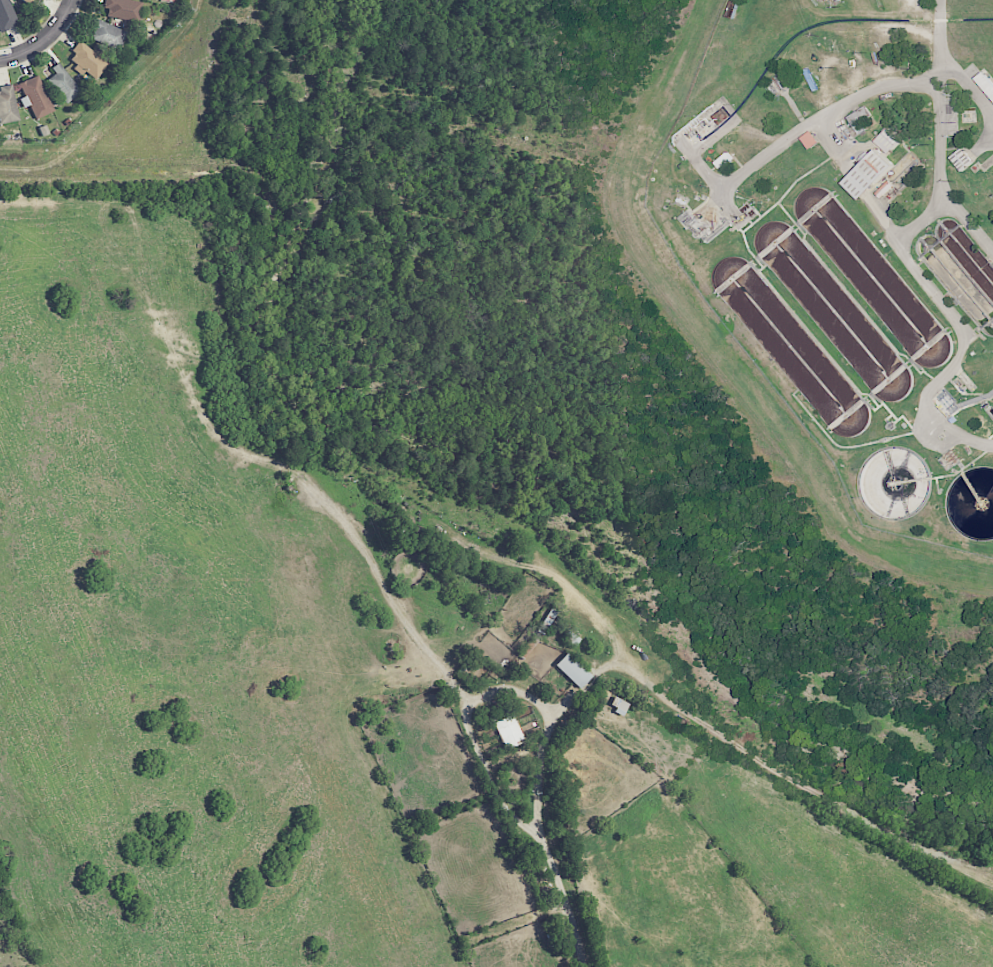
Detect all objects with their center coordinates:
building: (32, 2)
building: (123, 9)
building: (6, 16)
road: (939, 30)
building: (107, 34)
road: (47, 41)
building: (87, 61)
building: (985, 83)
building: (63, 84)
building: (35, 97)
road: (861, 102)
building: (7, 105)
building: (859, 118)
road: (944, 132)
building: (887, 140)
road: (836, 148)
building: (961, 158)
building: (868, 174)
road: (858, 183)
road: (883, 219)
road: (923, 225)
road: (970, 231)
wastewater plant: (840, 257)
road: (958, 359)
building: (572, 670)
road: (497, 691)
road: (564, 706)
building: (509, 732)
road: (569, 896)

